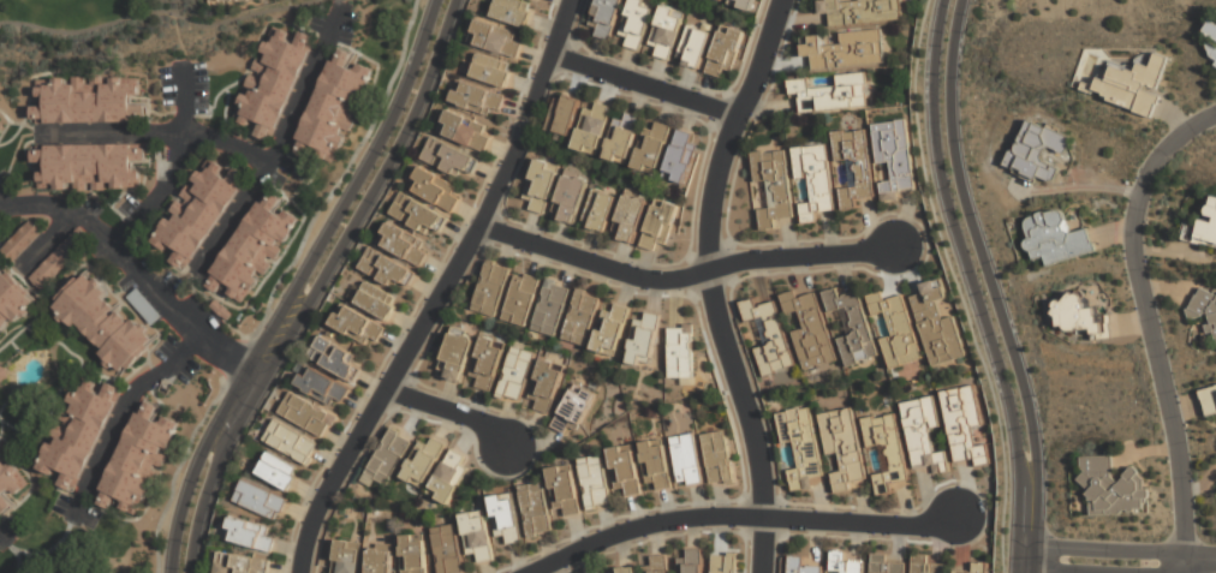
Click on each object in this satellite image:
building: (216, 0)
building: (720, 0)
building: (740, 4)
building: (513, 12)
building: (859, 12)
road: (161, 16)
building: (603, 18)
building: (636, 23)
park: (97, 26)
building: (1211, 29)
building: (666, 32)
building: (496, 38)
building: (693, 47)
building: (727, 49)
building: (844, 49)
road: (550, 50)
building: (1215, 60)
building: (1215, 65)
building: (493, 70)
building: (273, 80)
building: (1134, 84)
road: (643, 85)
building: (831, 94)
building: (475, 99)
building: (87, 100)
building: (333, 108)
road: (1215, 111)
building: (562, 114)
building: (1, 124)
road: (521, 125)
building: (592, 129)
building: (465, 130)
road: (159, 133)
building: (622, 138)
road: (276, 145)
building: (652, 148)
building: (1037, 151)
building: (680, 155)
building: (448, 157)
building: (894, 159)
building: (88, 166)
building: (854, 166)
road: (169, 171)
building: (815, 180)
building: (542, 185)
building: (774, 186)
building: (436, 189)
building: (571, 197)
road: (0, 202)
building: (598, 210)
building: (197, 213)
building: (417, 213)
building: (630, 217)
building: (660, 223)
building: (1202, 227)
building: (1055, 237)
building: (22, 240)
road: (49, 240)
building: (404, 244)
building: (252, 249)
building: (58, 257)
building: (386, 269)
road: (138, 273)
road: (967, 273)
road: (986, 273)
road: (682, 277)
road: (276, 282)
road: (711, 282)
road: (298, 285)
road: (317, 285)
road: (959, 286)
building: (491, 287)
building: (521, 298)
building: (12, 299)
building: (372, 299)
building: (552, 306)
building: (1205, 306)
building: (144, 308)
building: (944, 308)
building: (1079, 316)
building: (582, 318)
building: (101, 323)
road: (1152, 323)
building: (356, 324)
building: (937, 324)
building: (853, 326)
building: (809, 329)
building: (898, 329)
building: (612, 330)
building: (767, 335)
building: (644, 339)
building: (682, 351)
building: (455, 356)
building: (334, 357)
road: (403, 359)
building: (487, 364)
building: (517, 374)
building: (322, 386)
building: (547, 386)
building: (1210, 400)
building: (573, 410)
road: (451, 411)
road: (119, 414)
building: (308, 416)
building: (964, 426)
building: (77, 432)
building: (923, 434)
building: (291, 441)
building: (801, 446)
building: (844, 448)
building: (887, 448)
building: (388, 456)
building: (719, 456)
building: (686, 459)
building: (137, 460)
building: (423, 462)
building: (656, 465)
building: (626, 470)
building: (279, 471)
building: (449, 477)
building: (595, 482)
building: (6, 484)
building: (1111, 488)
building: (565, 489)
building: (260, 499)
building: (535, 508)
building: (506, 515)
road: (741, 517)
building: (250, 533)
road: (1, 536)
building: (478, 536)
building: (447, 549)
road: (1102, 550)
building: (413, 554)
building: (347, 556)
road: (1015, 559)
road: (1032, 559)
building: (380, 560)
building: (691, 561)
building: (725, 562)
road: (1200, 562)
building: (239, 563)
building: (656, 563)
building: (844, 563)
building: (801, 565)
building: (884, 565)
building: (925, 565)
building: (978, 567)
road: (1176, 568)
road: (1182, 568)
road: (1185, 568)
building: (624, 569)
road: (1060, 569)
building: (958, 572)

